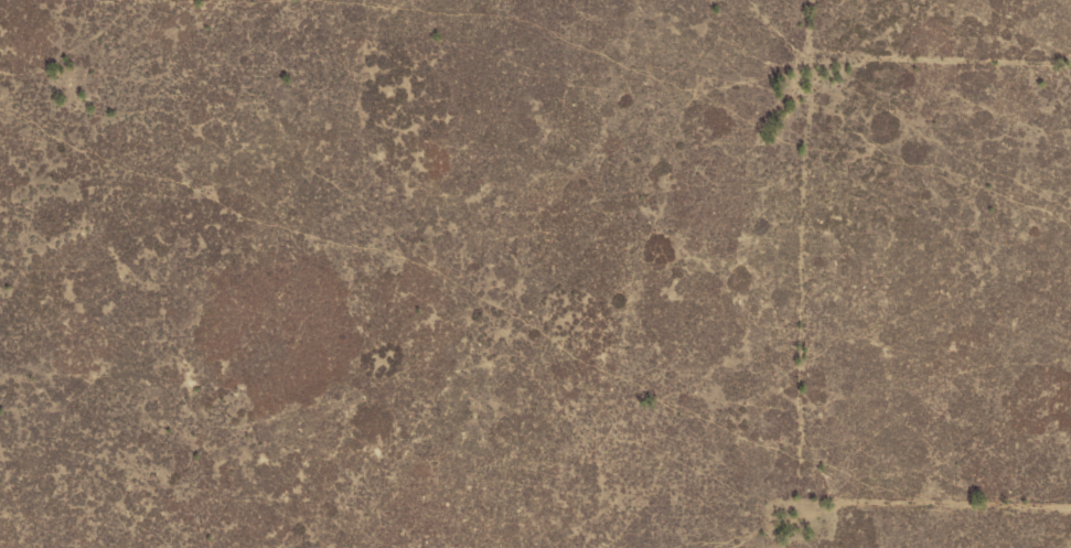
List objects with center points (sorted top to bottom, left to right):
road: (971, 79)
road: (866, 275)
road: (965, 514)

